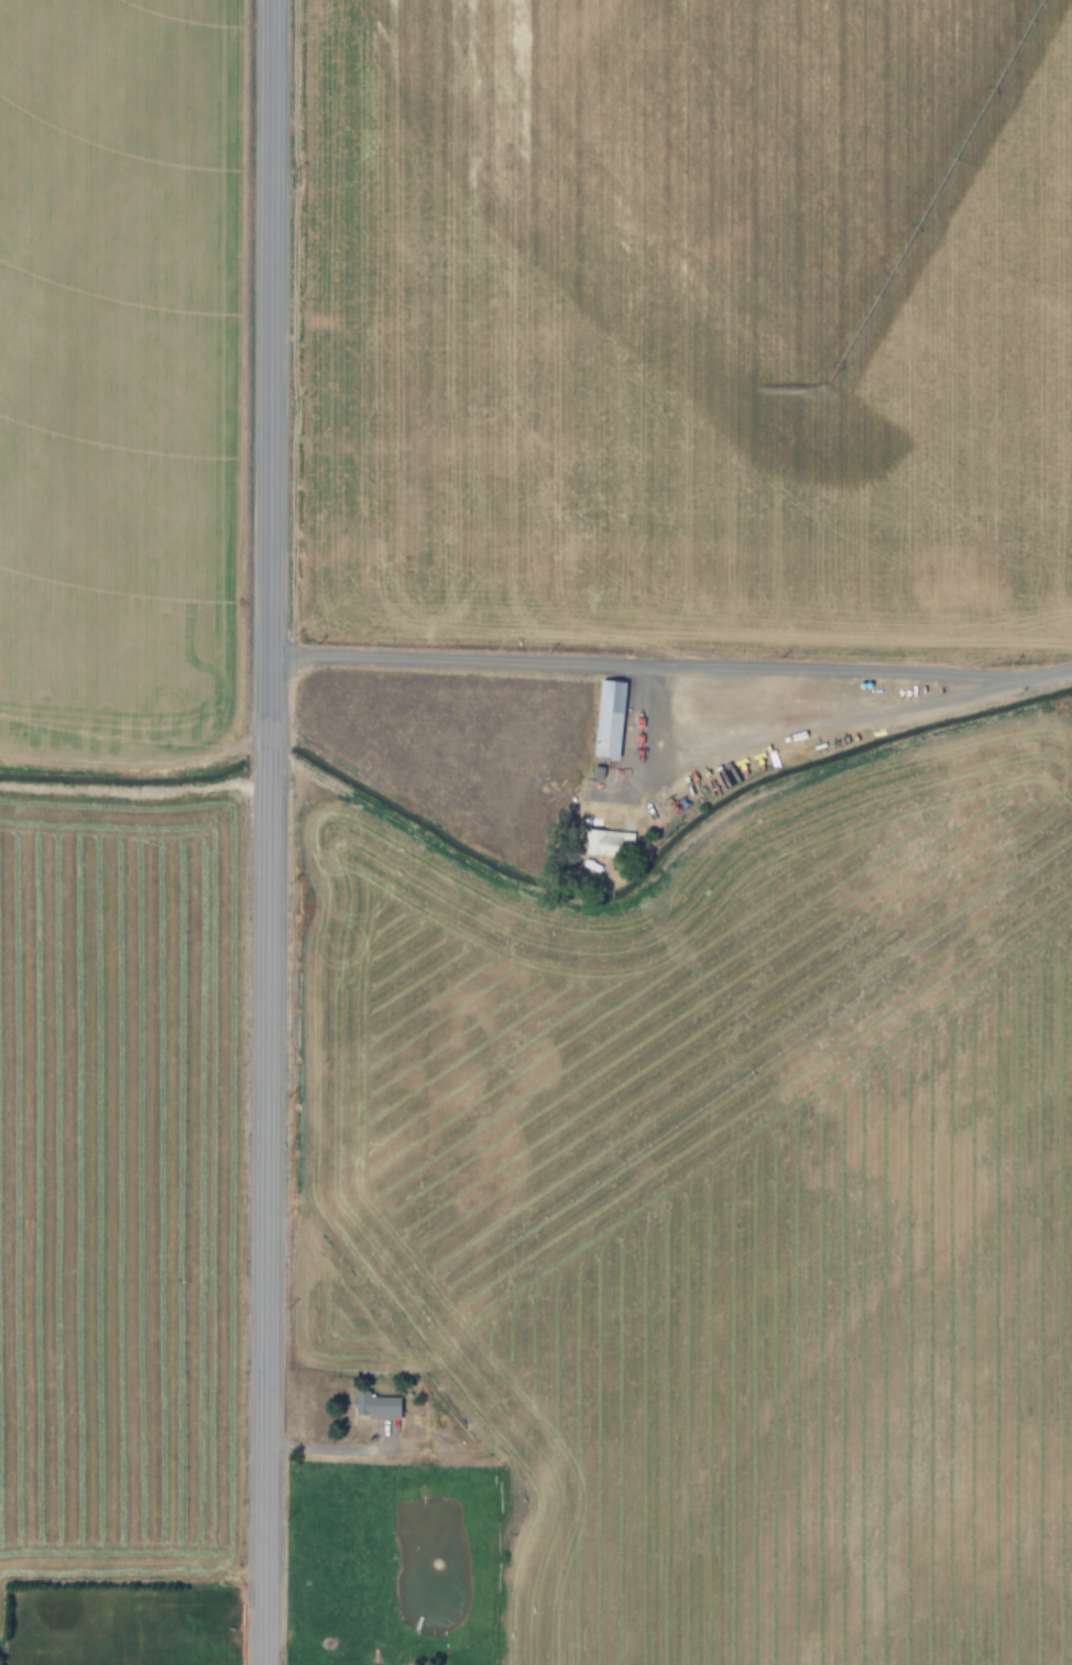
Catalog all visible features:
road: (670, 666)
building: (605, 718)
crop: (122, 825)
road: (266, 832)
crop: (683, 834)
building: (604, 842)
building: (381, 1406)

